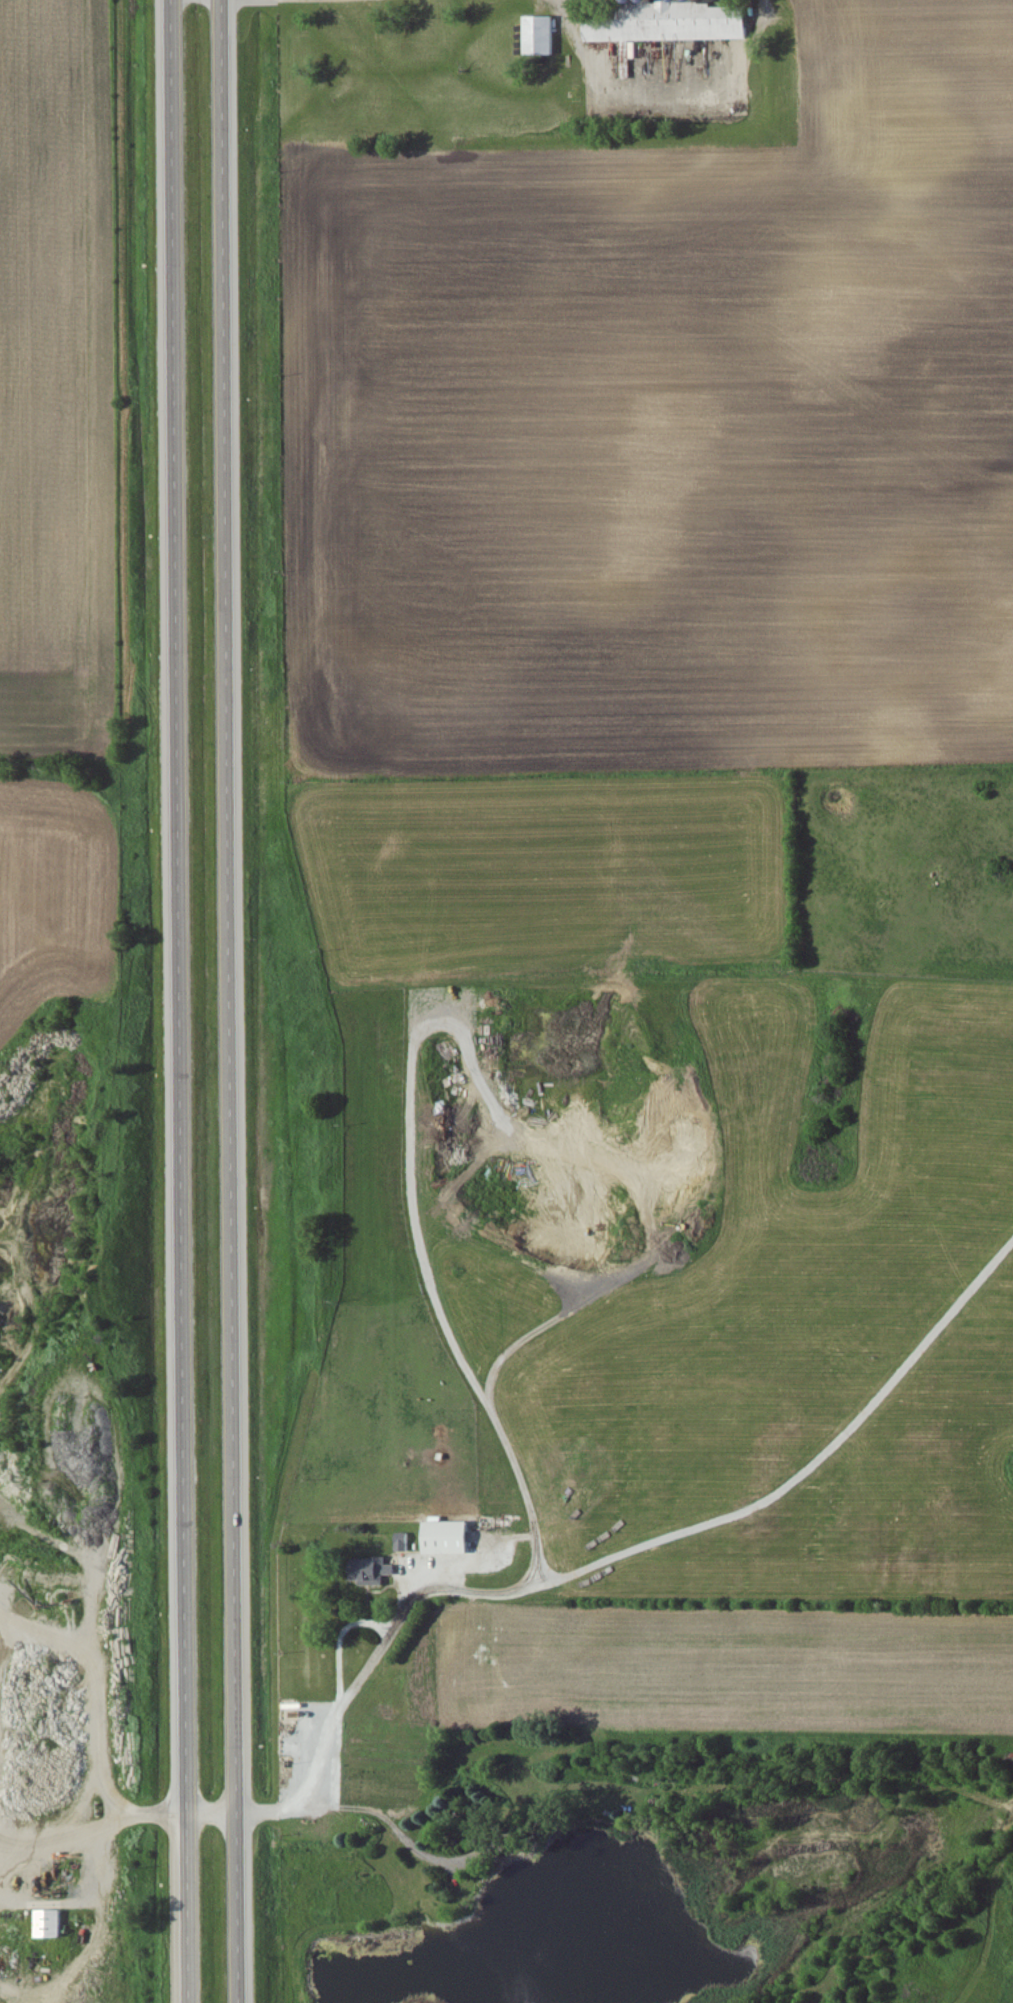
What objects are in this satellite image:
building: (542, 35)
road: (182, 1001)
road: (234, 1001)
building: (448, 1538)
building: (403, 1542)
building: (372, 1571)
road: (403, 1609)
building: (51, 1924)

